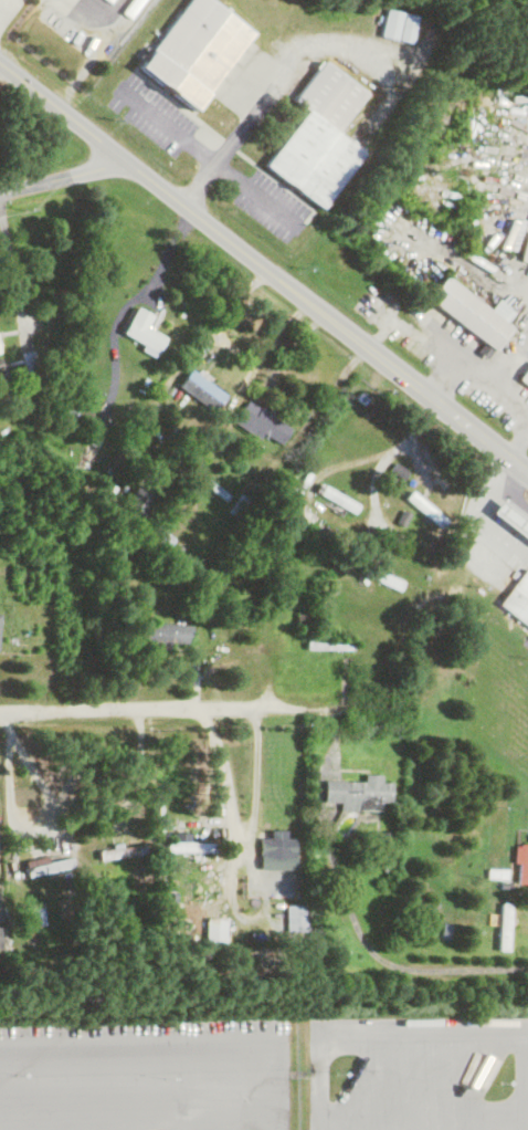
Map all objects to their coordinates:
building: (398, 25)
building: (194, 51)
road: (279, 86)
building: (318, 137)
road: (211, 157)
road: (64, 176)
road: (12, 263)
road: (262, 265)
building: (467, 313)
building: (141, 331)
road: (233, 346)
road: (450, 353)
road: (510, 358)
building: (28, 362)
building: (524, 376)
road: (444, 378)
building: (200, 390)
building: (260, 421)
road: (519, 444)
road: (389, 453)
building: (338, 499)
building: (138, 502)
building: (239, 508)
building: (424, 509)
road: (483, 511)
building: (511, 519)
building: (297, 524)
building: (318, 535)
building: (159, 540)
building: (384, 579)
building: (517, 598)
building: (303, 618)
building: (163, 636)
building: (328, 644)
road: (204, 703)
road: (137, 765)
building: (358, 793)
road: (239, 825)
road: (25, 833)
building: (191, 847)
building: (120, 851)
building: (521, 864)
building: (49, 866)
building: (36, 913)
building: (294, 918)
building: (503, 925)
road: (384, 954)
road: (376, 1030)
parking lot: (418, 1074)
parking lot: (145, 1075)
road: (520, 1075)
road: (475, 1079)
road: (131, 1124)
road: (102, 1127)

